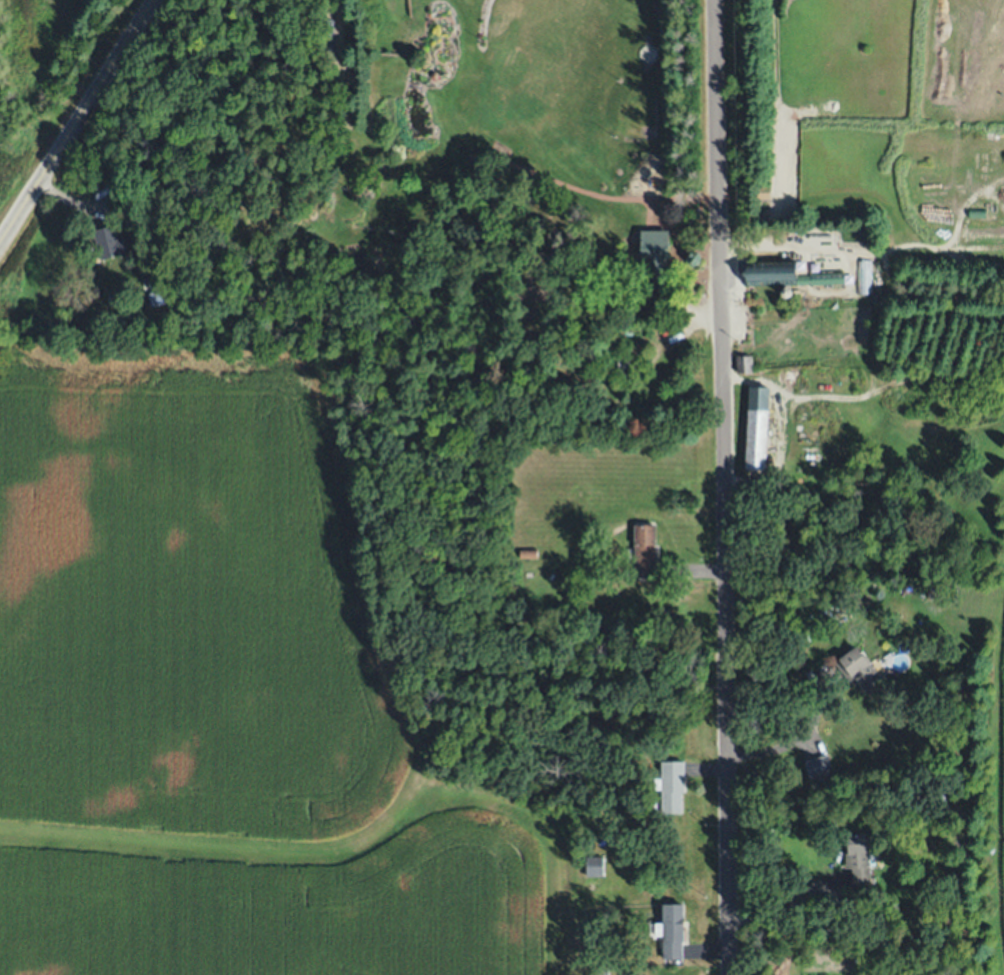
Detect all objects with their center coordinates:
road: (77, 121)
building: (109, 242)
road: (772, 250)
building: (656, 257)
building: (771, 272)
building: (862, 278)
building: (152, 292)
building: (162, 296)
building: (625, 331)
building: (632, 357)
building: (745, 363)
building: (758, 426)
road: (724, 487)
building: (643, 550)
building: (527, 553)
building: (575, 585)
building: (931, 591)
building: (859, 669)
road: (793, 736)
building: (818, 765)
building: (671, 785)
building: (859, 856)
building: (595, 865)
road: (786, 911)
building: (671, 929)
building: (603, 972)

